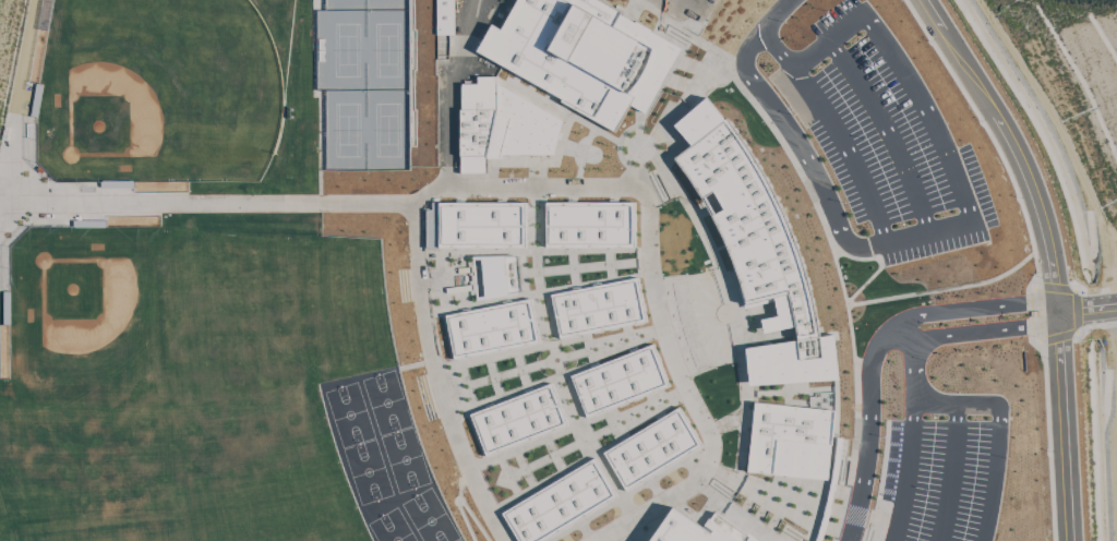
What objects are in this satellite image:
park: (367, 3)
road: (674, 7)
road: (658, 13)
road: (776, 15)
building: (444, 16)
road: (852, 19)
road: (668, 27)
road: (694, 38)
road: (705, 41)
road: (748, 46)
park: (362, 48)
road: (777, 48)
road: (809, 51)
road: (680, 53)
road: (411, 55)
building: (582, 55)
road: (669, 71)
road: (699, 73)
road: (705, 80)
road: (688, 88)
park: (156, 91)
road: (697, 93)
road: (562, 110)
road: (676, 119)
building: (503, 121)
road: (662, 127)
park: (367, 128)
road: (988, 135)
road: (647, 137)
road: (415, 142)
road: (1014, 144)
road: (618, 148)
road: (647, 151)
road: (844, 151)
road: (806, 163)
building: (472, 164)
road: (798, 172)
road: (536, 188)
road: (385, 201)
road: (0, 202)
building: (746, 219)
building: (476, 224)
building: (590, 224)
road: (923, 233)
road: (838, 273)
building: (495, 275)
road: (863, 284)
road: (917, 292)
park: (0, 306)
building: (598, 308)
road: (981, 308)
road: (1086, 308)
park: (112, 327)
building: (492, 328)
road: (983, 332)
road: (1071, 332)
road: (912, 358)
building: (792, 360)
building: (618, 380)
road: (687, 394)
park: (224, 406)
building: (518, 419)
road: (865, 422)
road: (1061, 424)
building: (790, 440)
road: (1047, 440)
building: (651, 448)
road: (854, 448)
road: (997, 450)
road: (952, 452)
park: (385, 458)
road: (909, 471)
building: (962, 494)
road: (460, 501)
building: (560, 503)
building: (697, 529)

